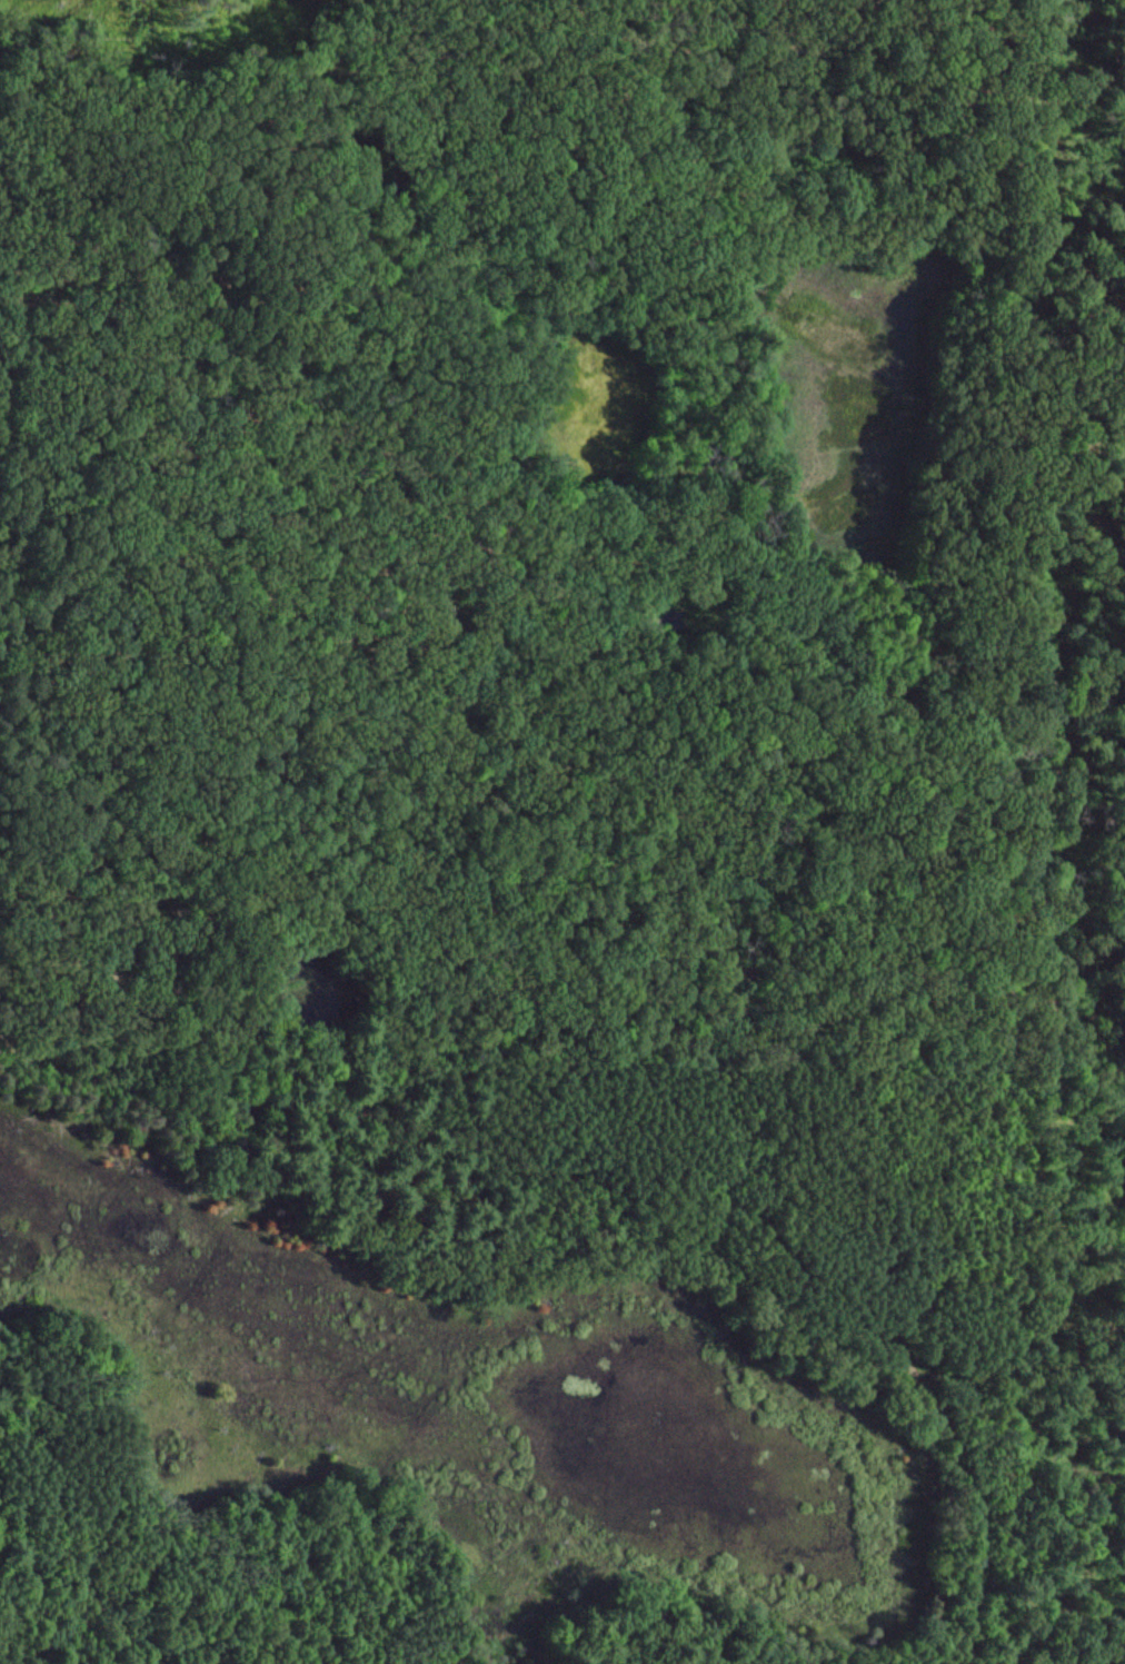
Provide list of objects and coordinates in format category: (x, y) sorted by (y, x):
road: (634, 1181)

